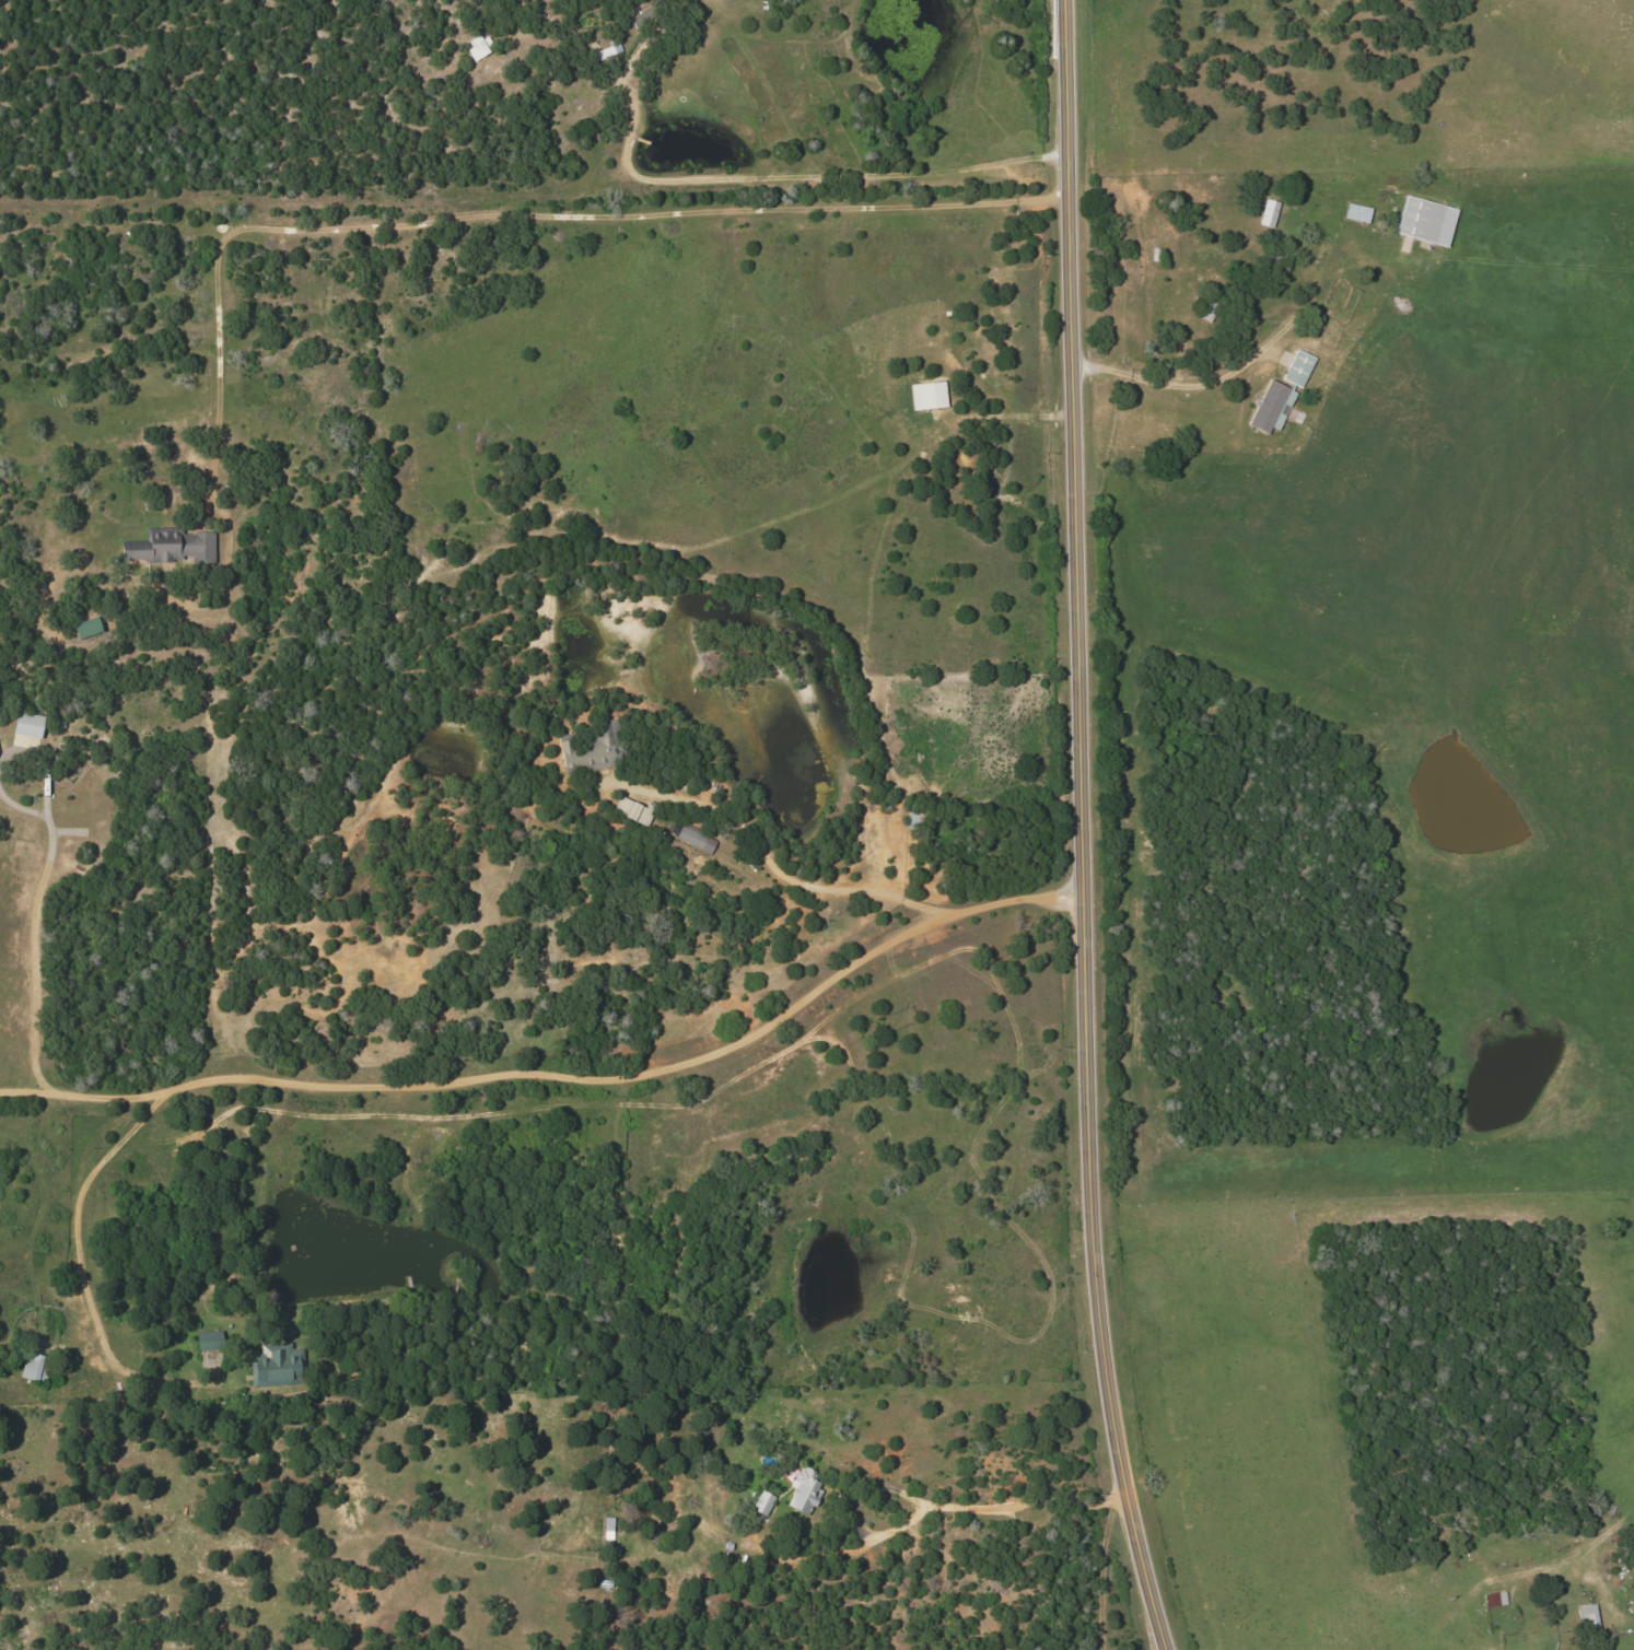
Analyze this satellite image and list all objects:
building: (480, 47)
building: (608, 49)
road: (755, 176)
building: (1357, 212)
building: (1269, 213)
road: (511, 218)
building: (1426, 221)
road: (1162, 382)
building: (929, 395)
building: (1271, 406)
building: (174, 546)
building: (86, 627)
building: (28, 724)
building: (591, 749)
building: (631, 809)
road: (1083, 828)
building: (696, 838)
road: (773, 868)
road: (28, 940)
road: (562, 1077)
road: (82, 1278)
building: (208, 1339)
building: (273, 1365)
building: (34, 1368)
building: (805, 1489)
building: (765, 1502)
road: (931, 1511)
building: (608, 1528)
building: (1589, 1617)

